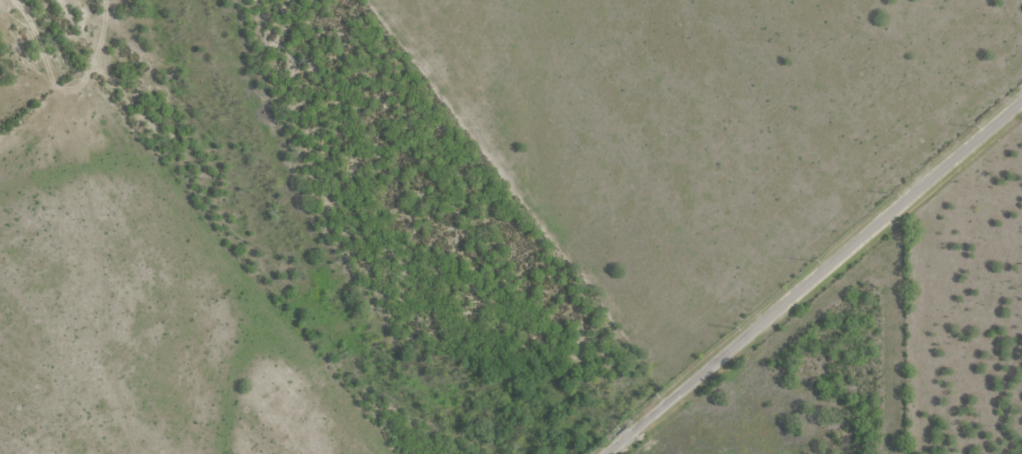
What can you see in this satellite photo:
road: (810, 276)

